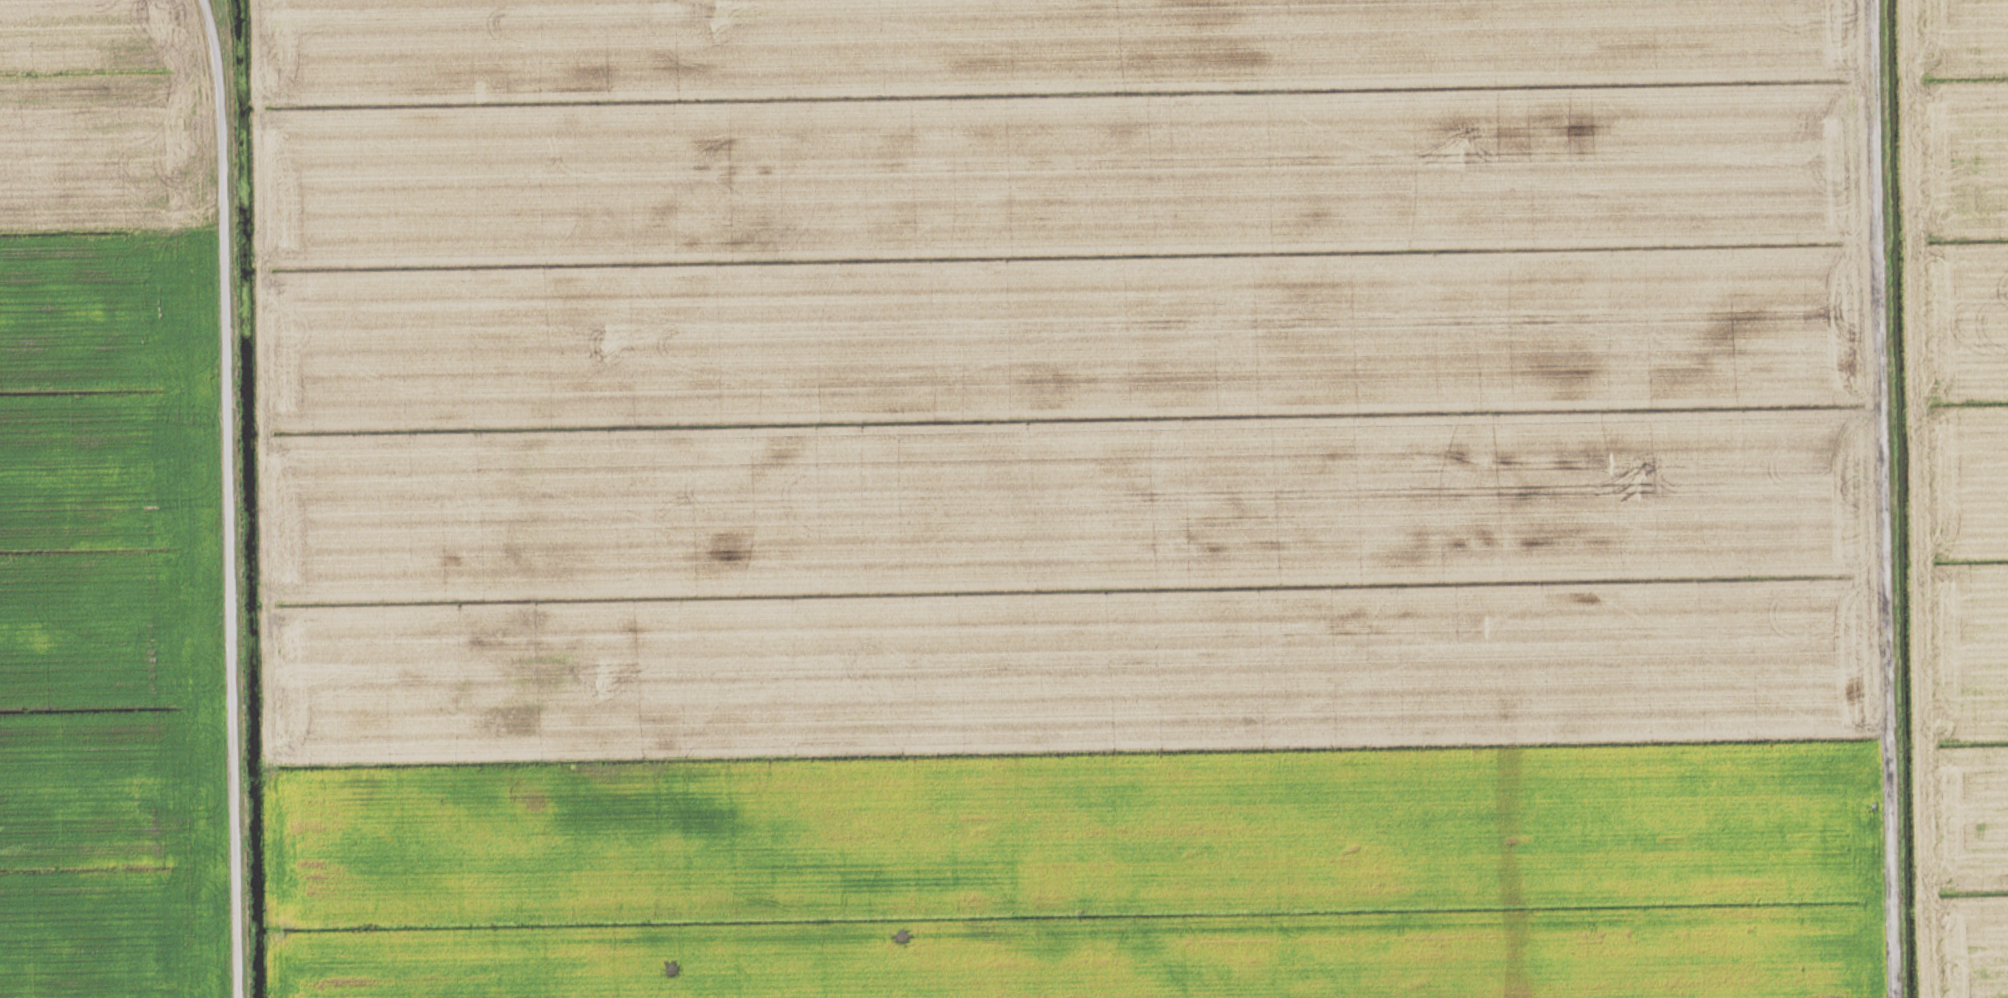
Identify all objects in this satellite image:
road: (111, 197)
crop: (1958, 480)
road: (226, 498)
crop: (1069, 499)
road: (1890, 499)

